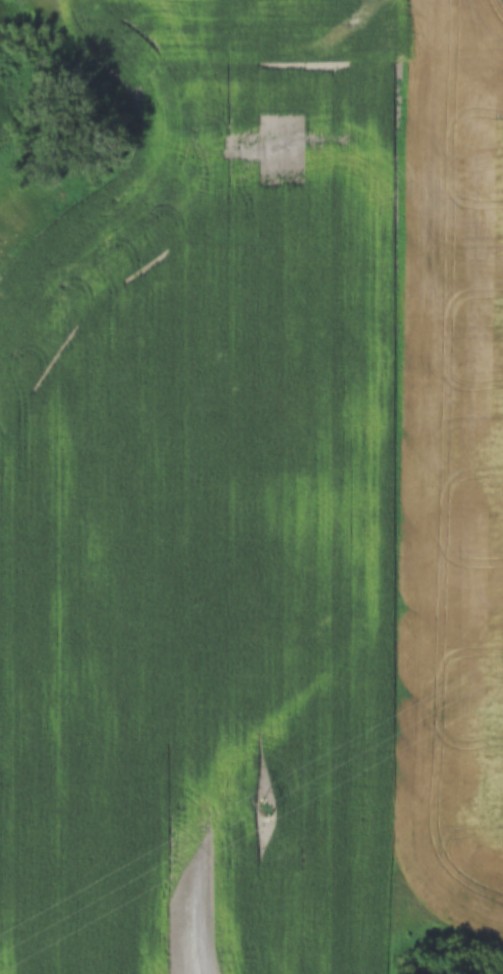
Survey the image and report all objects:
power tower: (265, 809)

